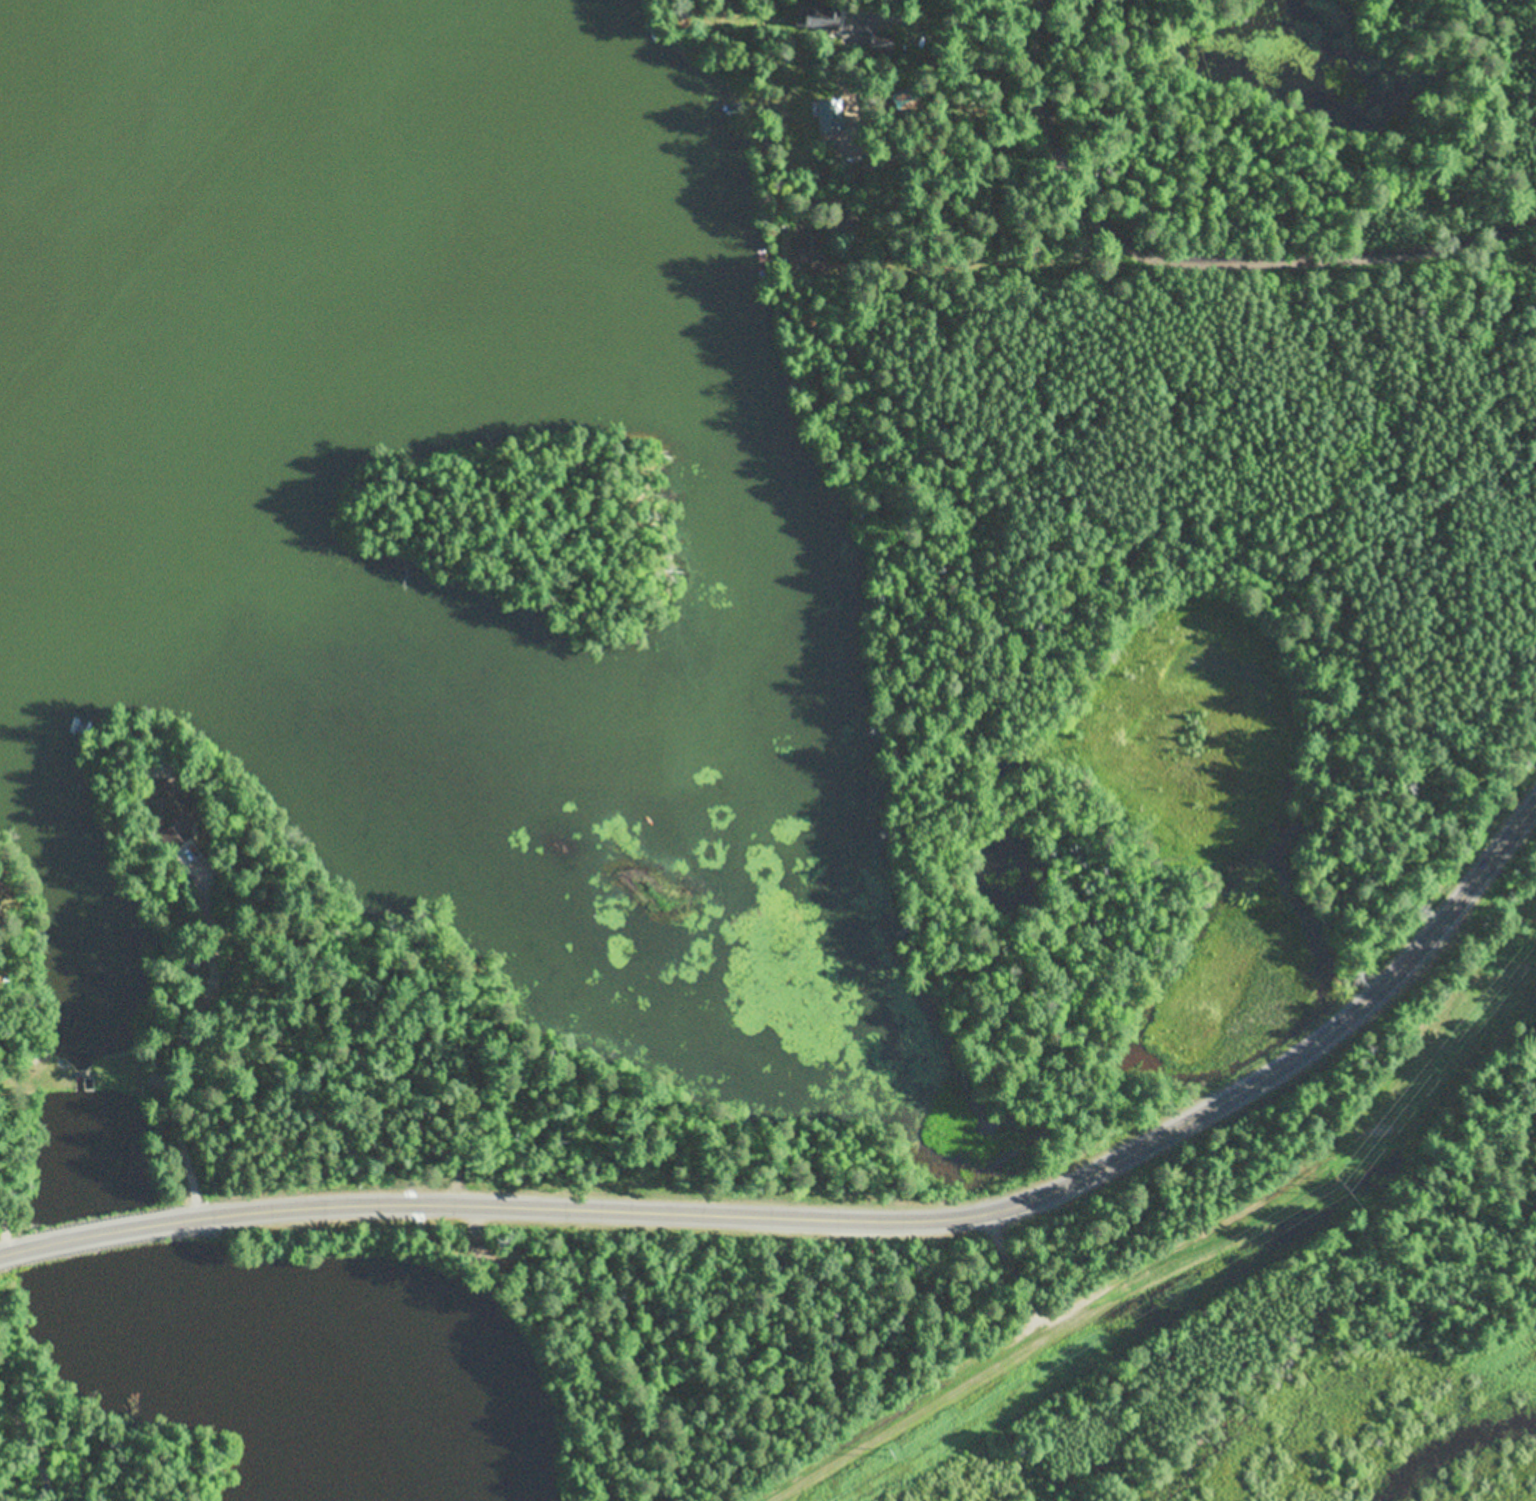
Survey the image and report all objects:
building: (823, 14)
building: (882, 40)
building: (889, 69)
building: (850, 79)
building: (909, 93)
building: (855, 108)
building: (840, 221)
building: (811, 253)
road: (1195, 254)
river: (30, 773)
building: (176, 813)
building: (1, 907)
building: (1, 944)
dam: (85, 1076)
road: (949, 1218)
road: (115, 1230)
road: (10, 1252)
road: (27, 1452)

